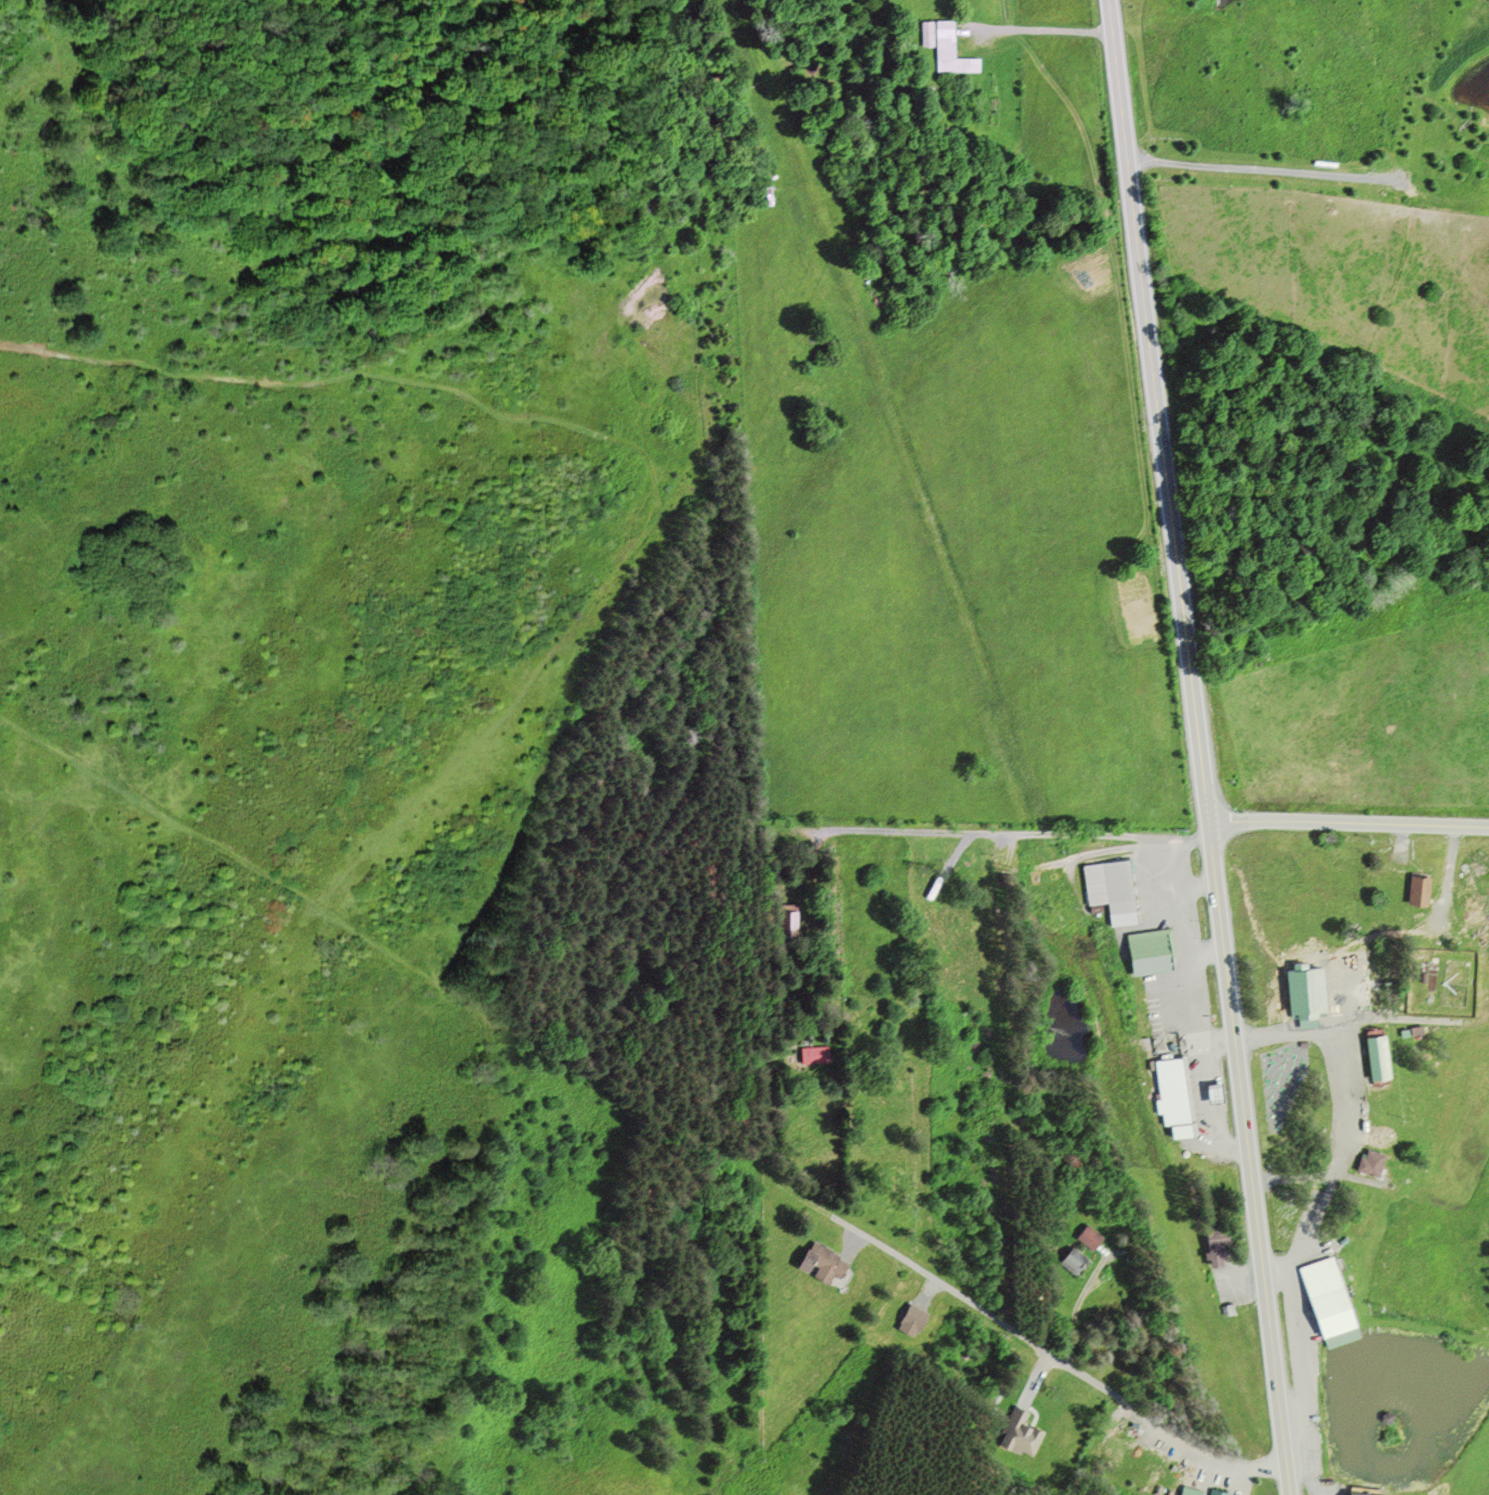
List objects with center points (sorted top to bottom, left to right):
road: (1034, 29)
building: (945, 47)
road: (1114, 54)
road: (509, 137)
road: (693, 527)
road: (1205, 801)
road: (1348, 824)
road: (1006, 832)
building: (1106, 889)
building: (1415, 889)
building: (792, 919)
building: (1151, 950)
building: (1301, 993)
road: (1353, 1018)
building: (812, 1053)
building: (1373, 1055)
building: (1168, 1064)
gas station: (1212, 1092)
building: (1175, 1105)
building: (1367, 1161)
road: (1305, 1228)
building: (1088, 1236)
building: (1210, 1245)
building: (1071, 1257)
building: (819, 1259)
road: (1275, 1270)
building: (1324, 1292)
building: (912, 1317)
road: (1019, 1333)
building: (1018, 1431)
building: (1189, 1491)
building: (1219, 1491)
building: (1359, 1492)

